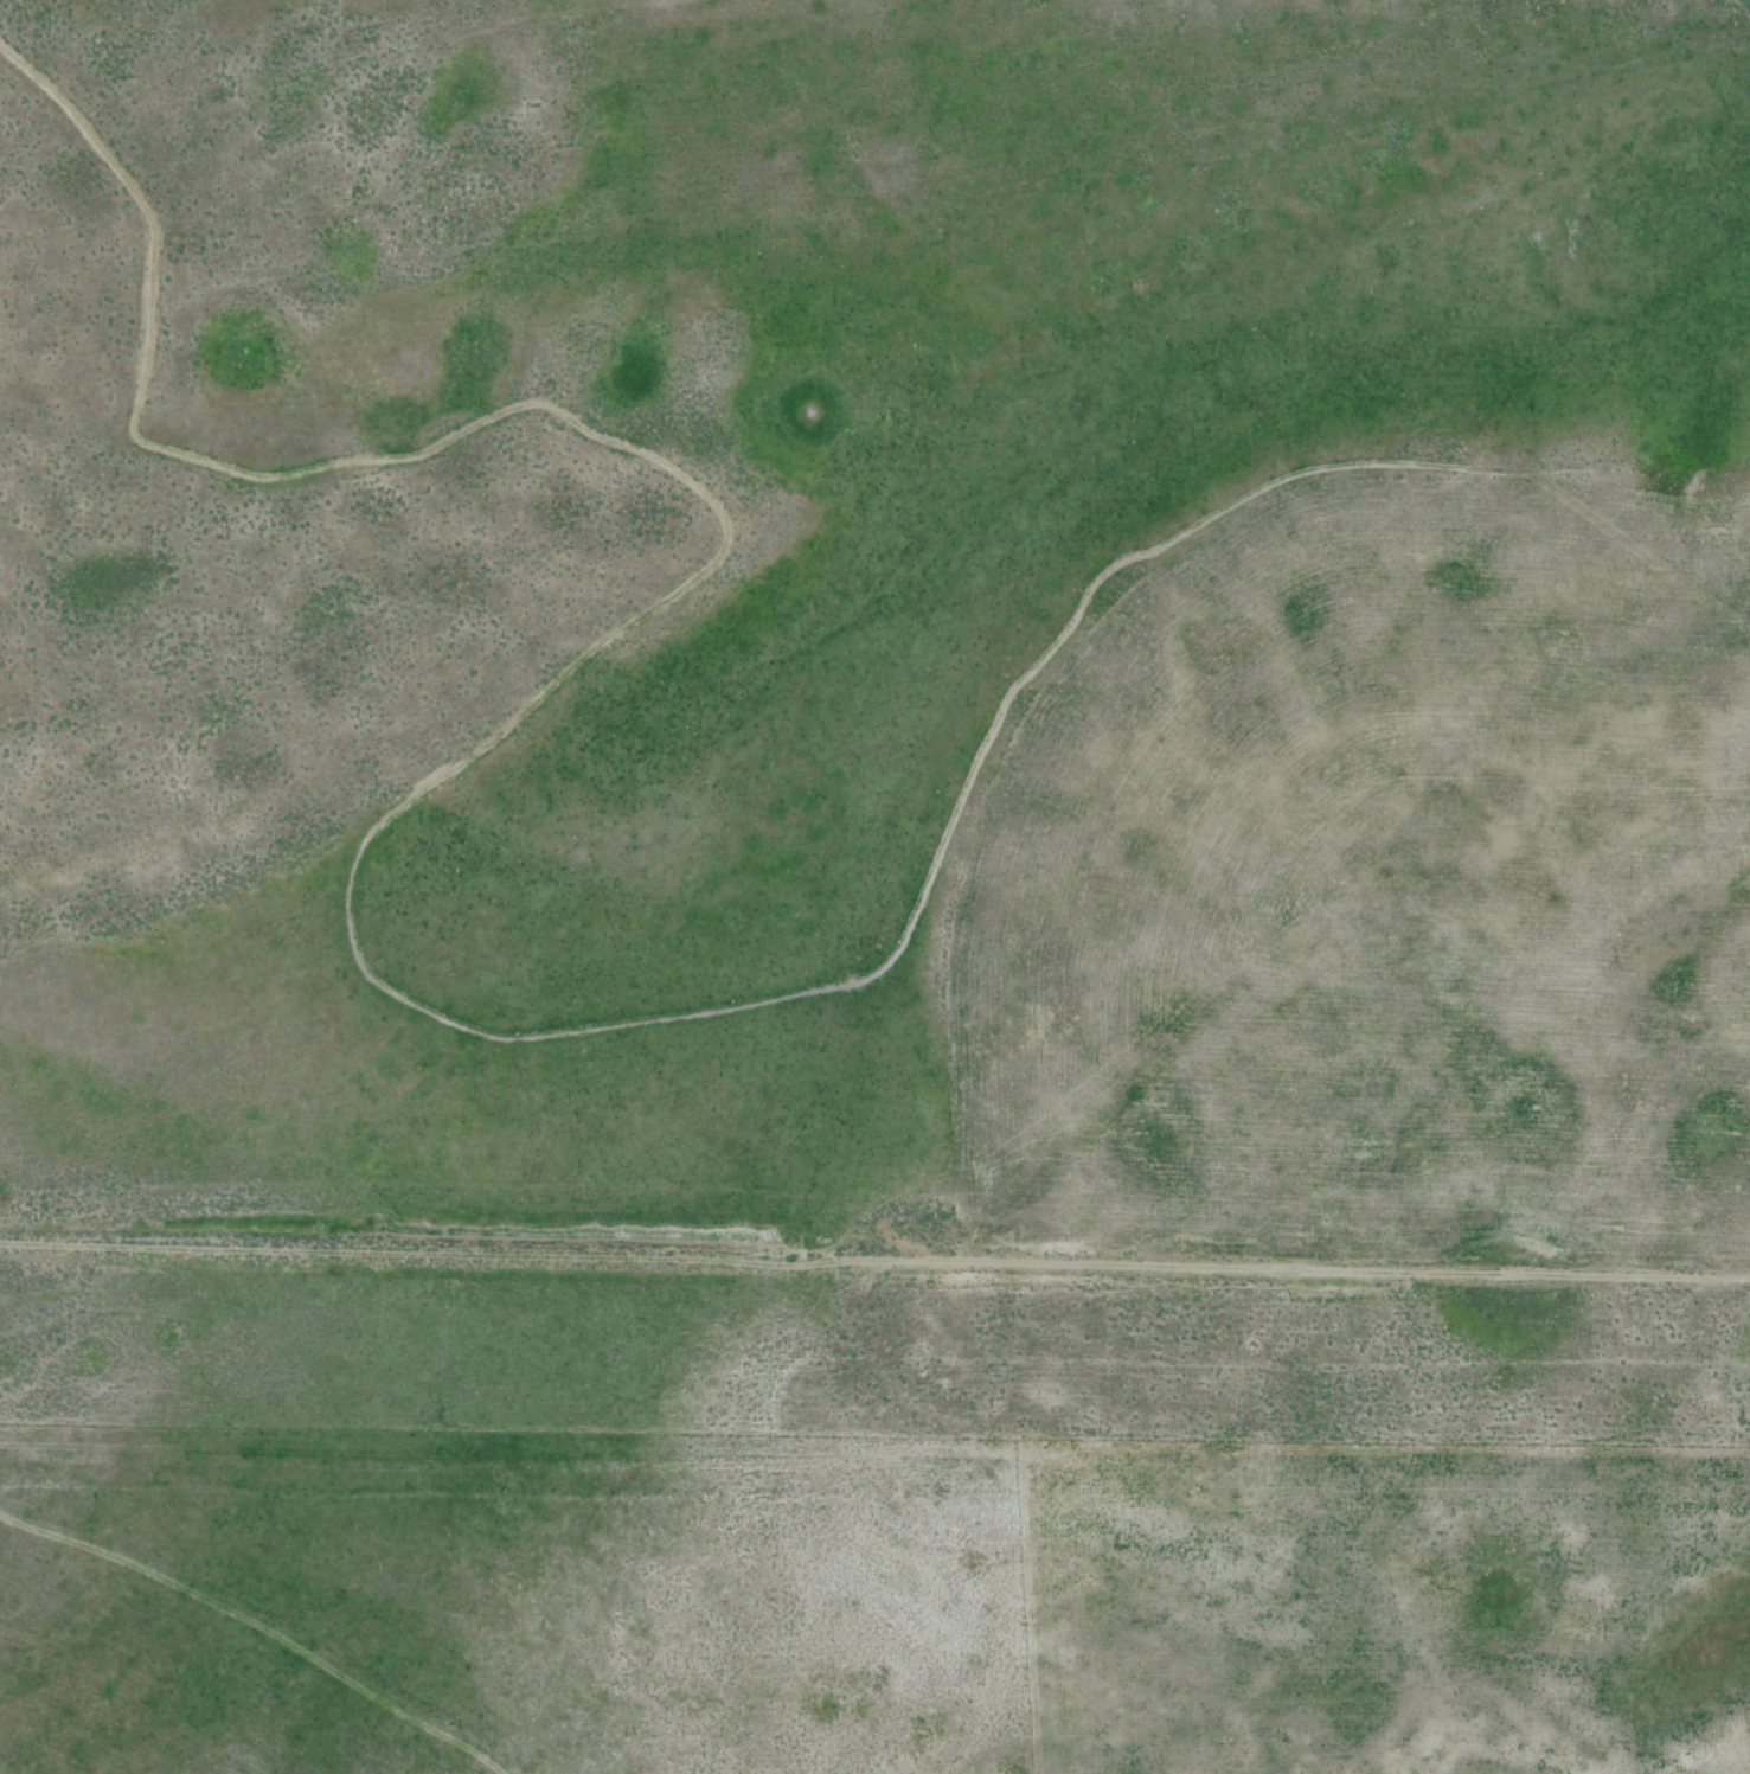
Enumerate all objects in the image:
road: (874, 1323)

